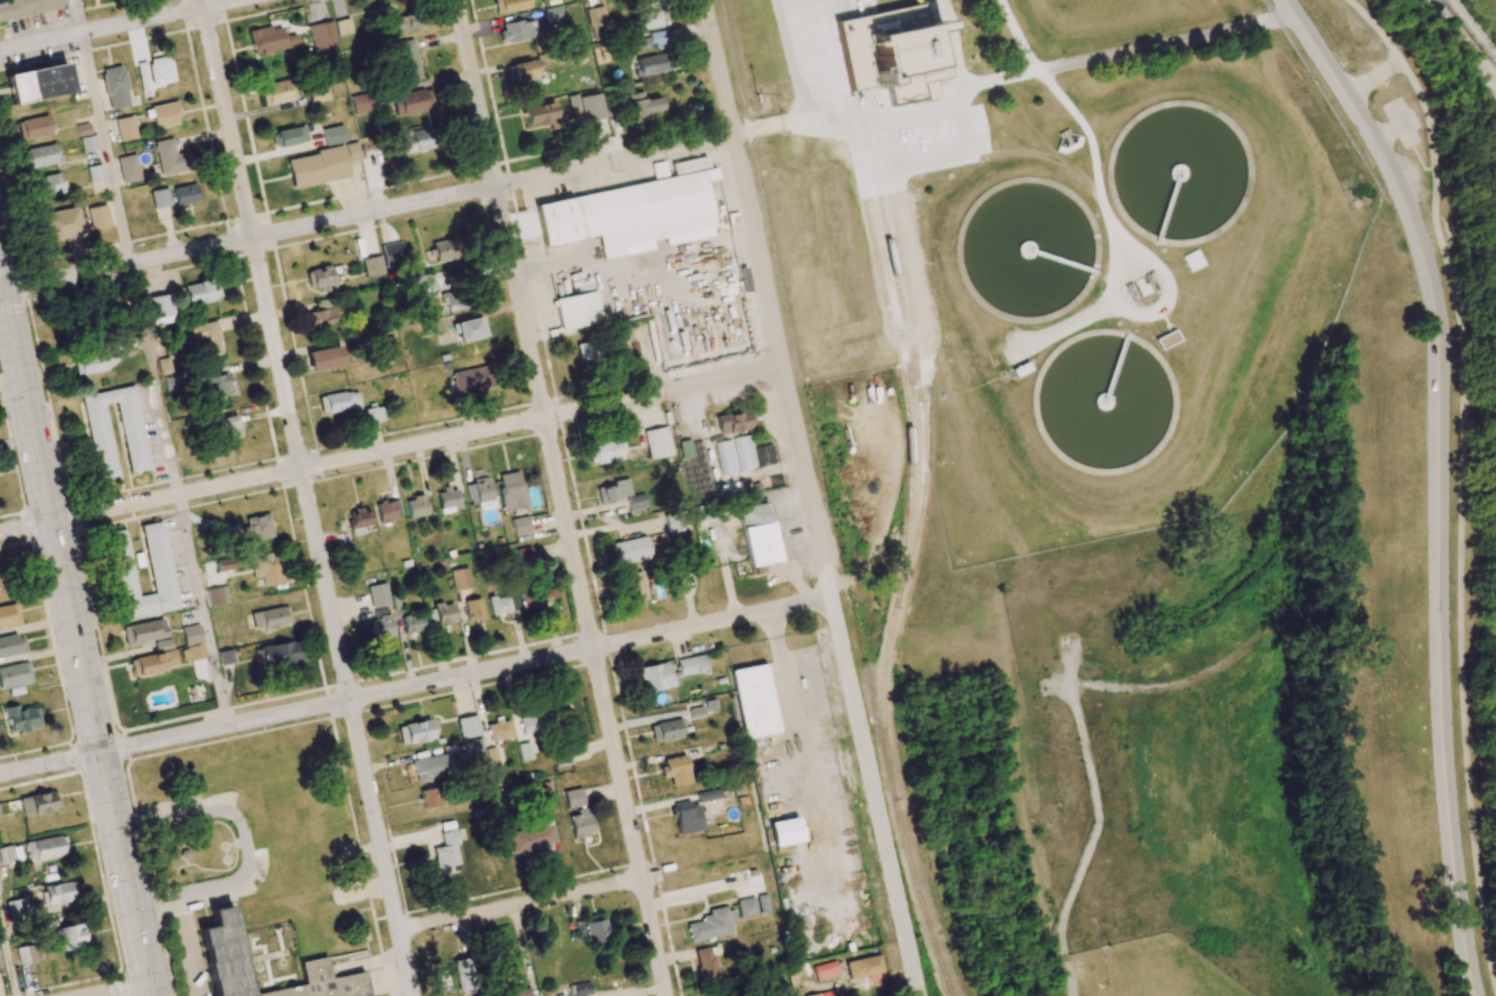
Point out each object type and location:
building: (510, 5)
building: (28, 7)
building: (554, 14)
road: (78, 16)
building: (650, 16)
building: (408, 21)
building: (596, 22)
road: (118, 25)
building: (343, 26)
road: (1370, 28)
building: (515, 31)
railway: (1467, 34)
building: (322, 36)
building: (271, 39)
building: (649, 40)
building: (889, 48)
building: (407, 60)
building: (652, 64)
building: (160, 70)
building: (524, 70)
building: (143, 76)
road: (1368, 79)
building: (37, 83)
building: (115, 87)
building: (277, 91)
building: (318, 94)
building: (411, 102)
building: (360, 103)
building: (641, 106)
building: (592, 107)
road: (1417, 113)
building: (165, 114)
building: (540, 114)
building: (33, 127)
building: (125, 128)
building: (82, 129)
building: (333, 135)
building: (291, 136)
building: (416, 140)
building: (88, 143)
road: (107, 148)
building: (38, 156)
building: (170, 158)
road: (1414, 163)
building: (323, 165)
building: (128, 168)
building: (659, 170)
building: (95, 173)
building: (47, 185)
railway: (889, 188)
building: (185, 194)
building: (160, 198)
railway: (867, 206)
railway: (881, 208)
road: (367, 213)
building: (630, 215)
building: (98, 217)
building: (59, 224)
building: (445, 250)
building: (391, 254)
building: (372, 265)
building: (321, 277)
road: (1, 283)
road: (26, 288)
building: (437, 289)
road: (1, 291)
traffic signals: (3, 291)
building: (201, 292)
building: (159, 309)
building: (577, 310)
building: (322, 314)
building: (470, 329)
building: (206, 338)
building: (1167, 339)
building: (387, 349)
building: (590, 351)
building: (325, 358)
building: (90, 365)
building: (164, 366)
road: (156, 379)
building: (470, 381)
building: (171, 383)
building: (217, 386)
building: (339, 401)
building: (374, 413)
building: (734, 422)
building: (227, 429)
building: (99, 436)
building: (657, 442)
road: (417, 444)
building: (685, 448)
building: (605, 451)
railway: (822, 451)
building: (744, 452)
building: (764, 455)
road: (1436, 480)
building: (481, 489)
building: (510, 489)
building: (623, 494)
road: (307, 497)
road: (561, 497)
road: (809, 498)
building: (448, 500)
railway: (917, 504)
building: (416, 506)
building: (388, 511)
building: (358, 521)
building: (675, 522)
building: (520, 526)
road: (25, 527)
building: (257, 527)
building: (757, 534)
building: (630, 550)
building: (525, 556)
building: (158, 563)
building: (224, 564)
building: (267, 568)
building: (3, 578)
building: (460, 579)
road: (1459, 582)
building: (632, 586)
building: (216, 595)
building: (378, 595)
building: (538, 595)
railway: (897, 595)
building: (502, 603)
building: (473, 609)
road: (205, 610)
building: (444, 614)
building: (8, 615)
building: (270, 618)
building: (382, 624)
building: (412, 624)
building: (143, 631)
building: (191, 635)
road: (77, 643)
building: (10, 645)
building: (277, 654)
building: (226, 657)
building: (154, 662)
building: (197, 662)
building: (690, 665)
building: (14, 674)
road: (464, 675)
building: (655, 677)
railway: (869, 687)
road: (1165, 687)
building: (753, 701)
building: (561, 715)
building: (22, 718)
building: (468, 726)
building: (498, 730)
building: (666, 730)
building: (415, 732)
building: (528, 735)
road: (97, 740)
building: (472, 746)
building: (491, 755)
building: (562, 759)
road: (50, 762)
building: (431, 766)
park: (1198, 769)
building: (676, 770)
building: (709, 795)
building: (430, 798)
building: (573, 798)
building: (39, 803)
building: (0, 817)
building: (687, 817)
building: (581, 823)
road: (1095, 827)
building: (784, 832)
building: (533, 836)
road: (244, 839)
building: (446, 846)
building: (46, 848)
building: (6, 854)
building: (58, 893)
building: (763, 903)
road: (520, 906)
building: (747, 907)
building: (16, 909)
building: (711, 924)
building: (594, 930)
building: (71, 936)
building: (220, 943)
road: (9, 949)
building: (25, 954)
building: (707, 965)
building: (865, 968)
building: (0, 970)
park: (1162, 970)
building: (825, 971)
building: (464, 975)
building: (580, 989)
road: (120, 990)
building: (515, 992)
building: (823, 993)

